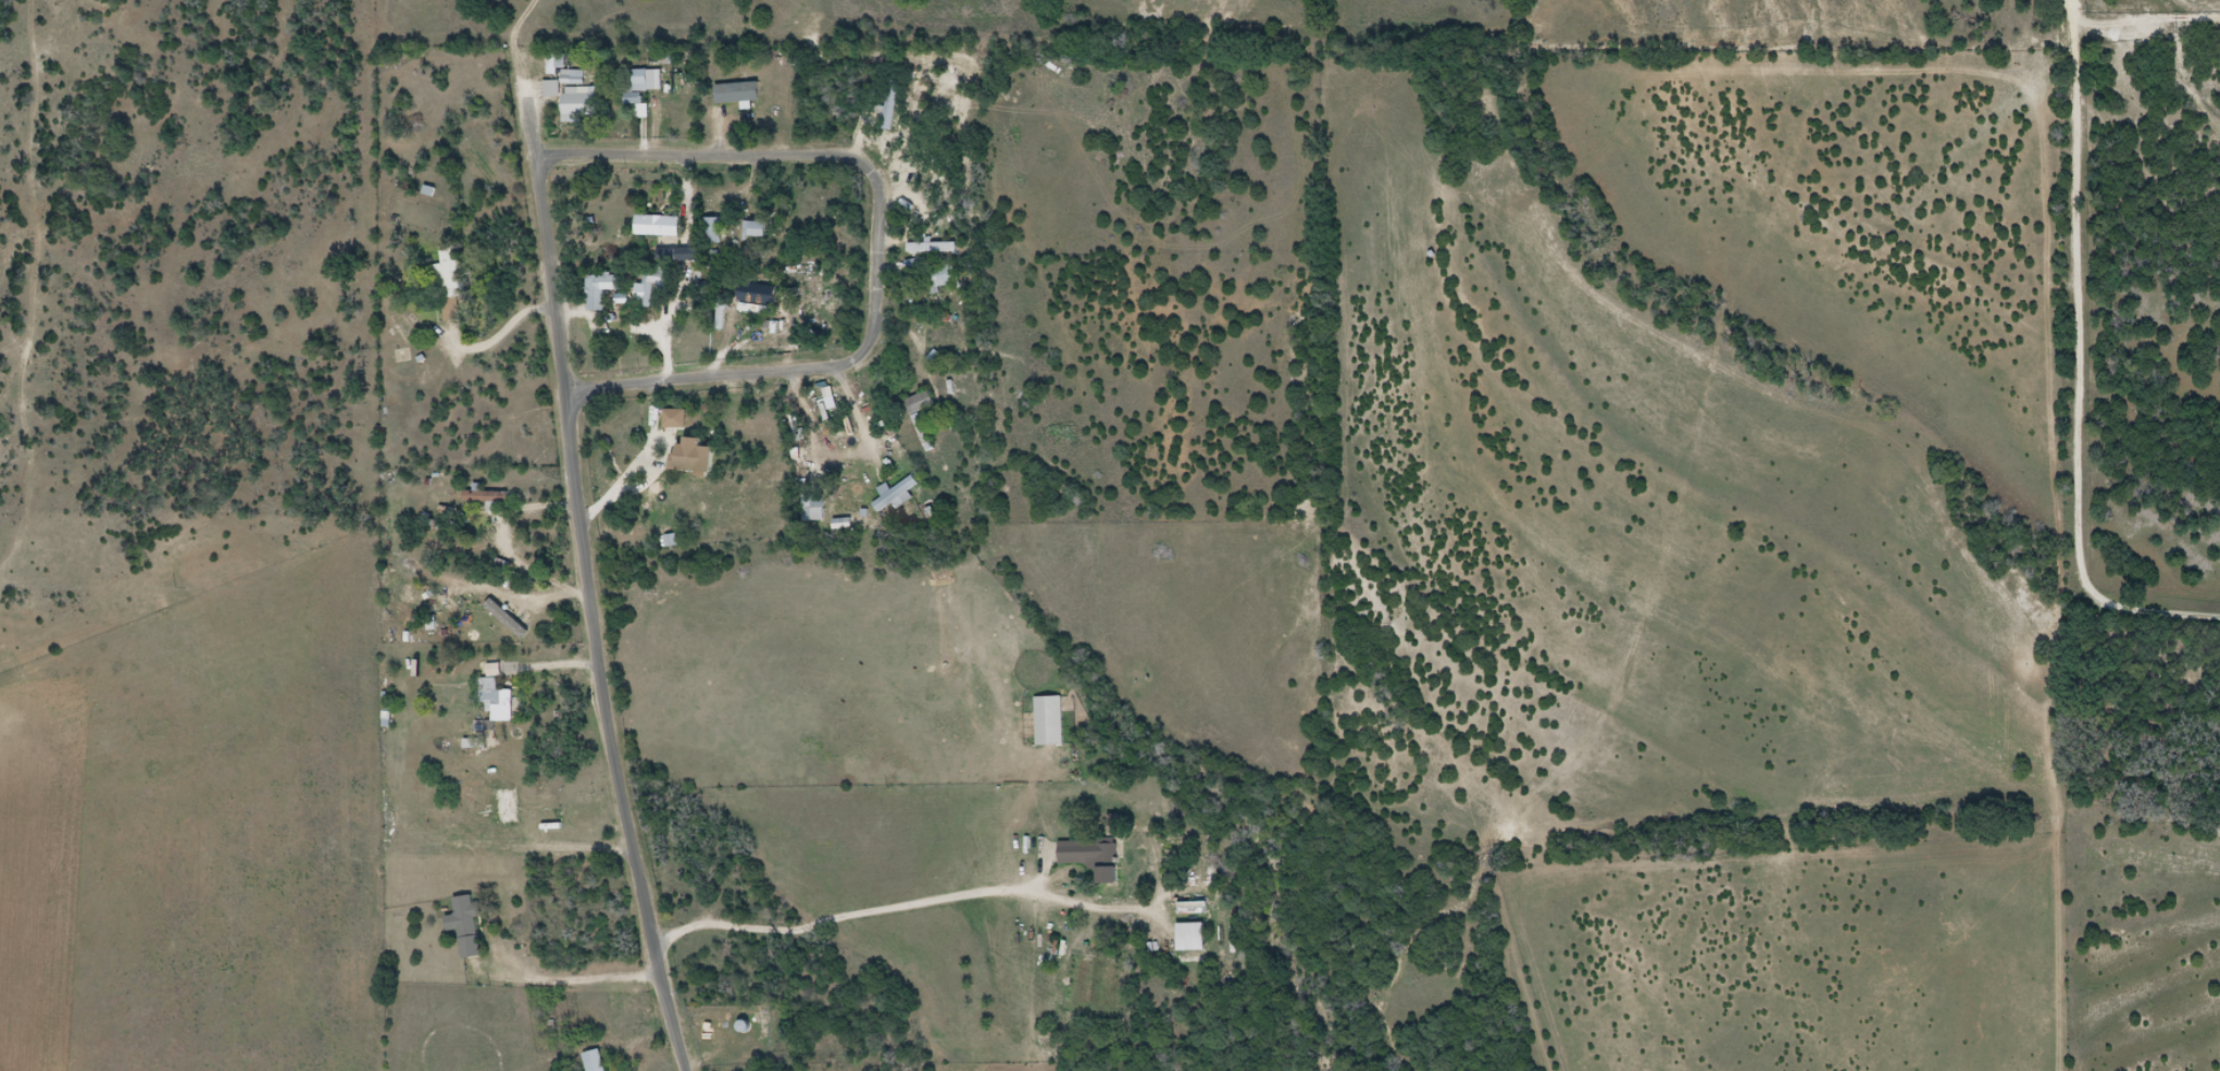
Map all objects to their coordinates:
road: (2074, 26)
building: (557, 62)
building: (648, 79)
building: (569, 80)
building: (743, 90)
building: (584, 101)
building: (891, 103)
road: (529, 120)
building: (662, 225)
building: (715, 228)
building: (760, 228)
road: (875, 242)
building: (691, 253)
road: (549, 273)
building: (939, 274)
building: (657, 282)
building: (452, 283)
building: (600, 292)
road: (498, 336)
road: (2078, 390)
building: (924, 416)
road: (838, 433)
building: (699, 454)
building: (898, 491)
building: (488, 496)
building: (815, 509)
building: (670, 539)
building: (497, 699)
building: (1053, 721)
road: (610, 735)
building: (1095, 855)
road: (902, 907)
building: (467, 924)
building: (1198, 936)
road: (585, 982)
building: (746, 1025)
building: (596, 1061)

